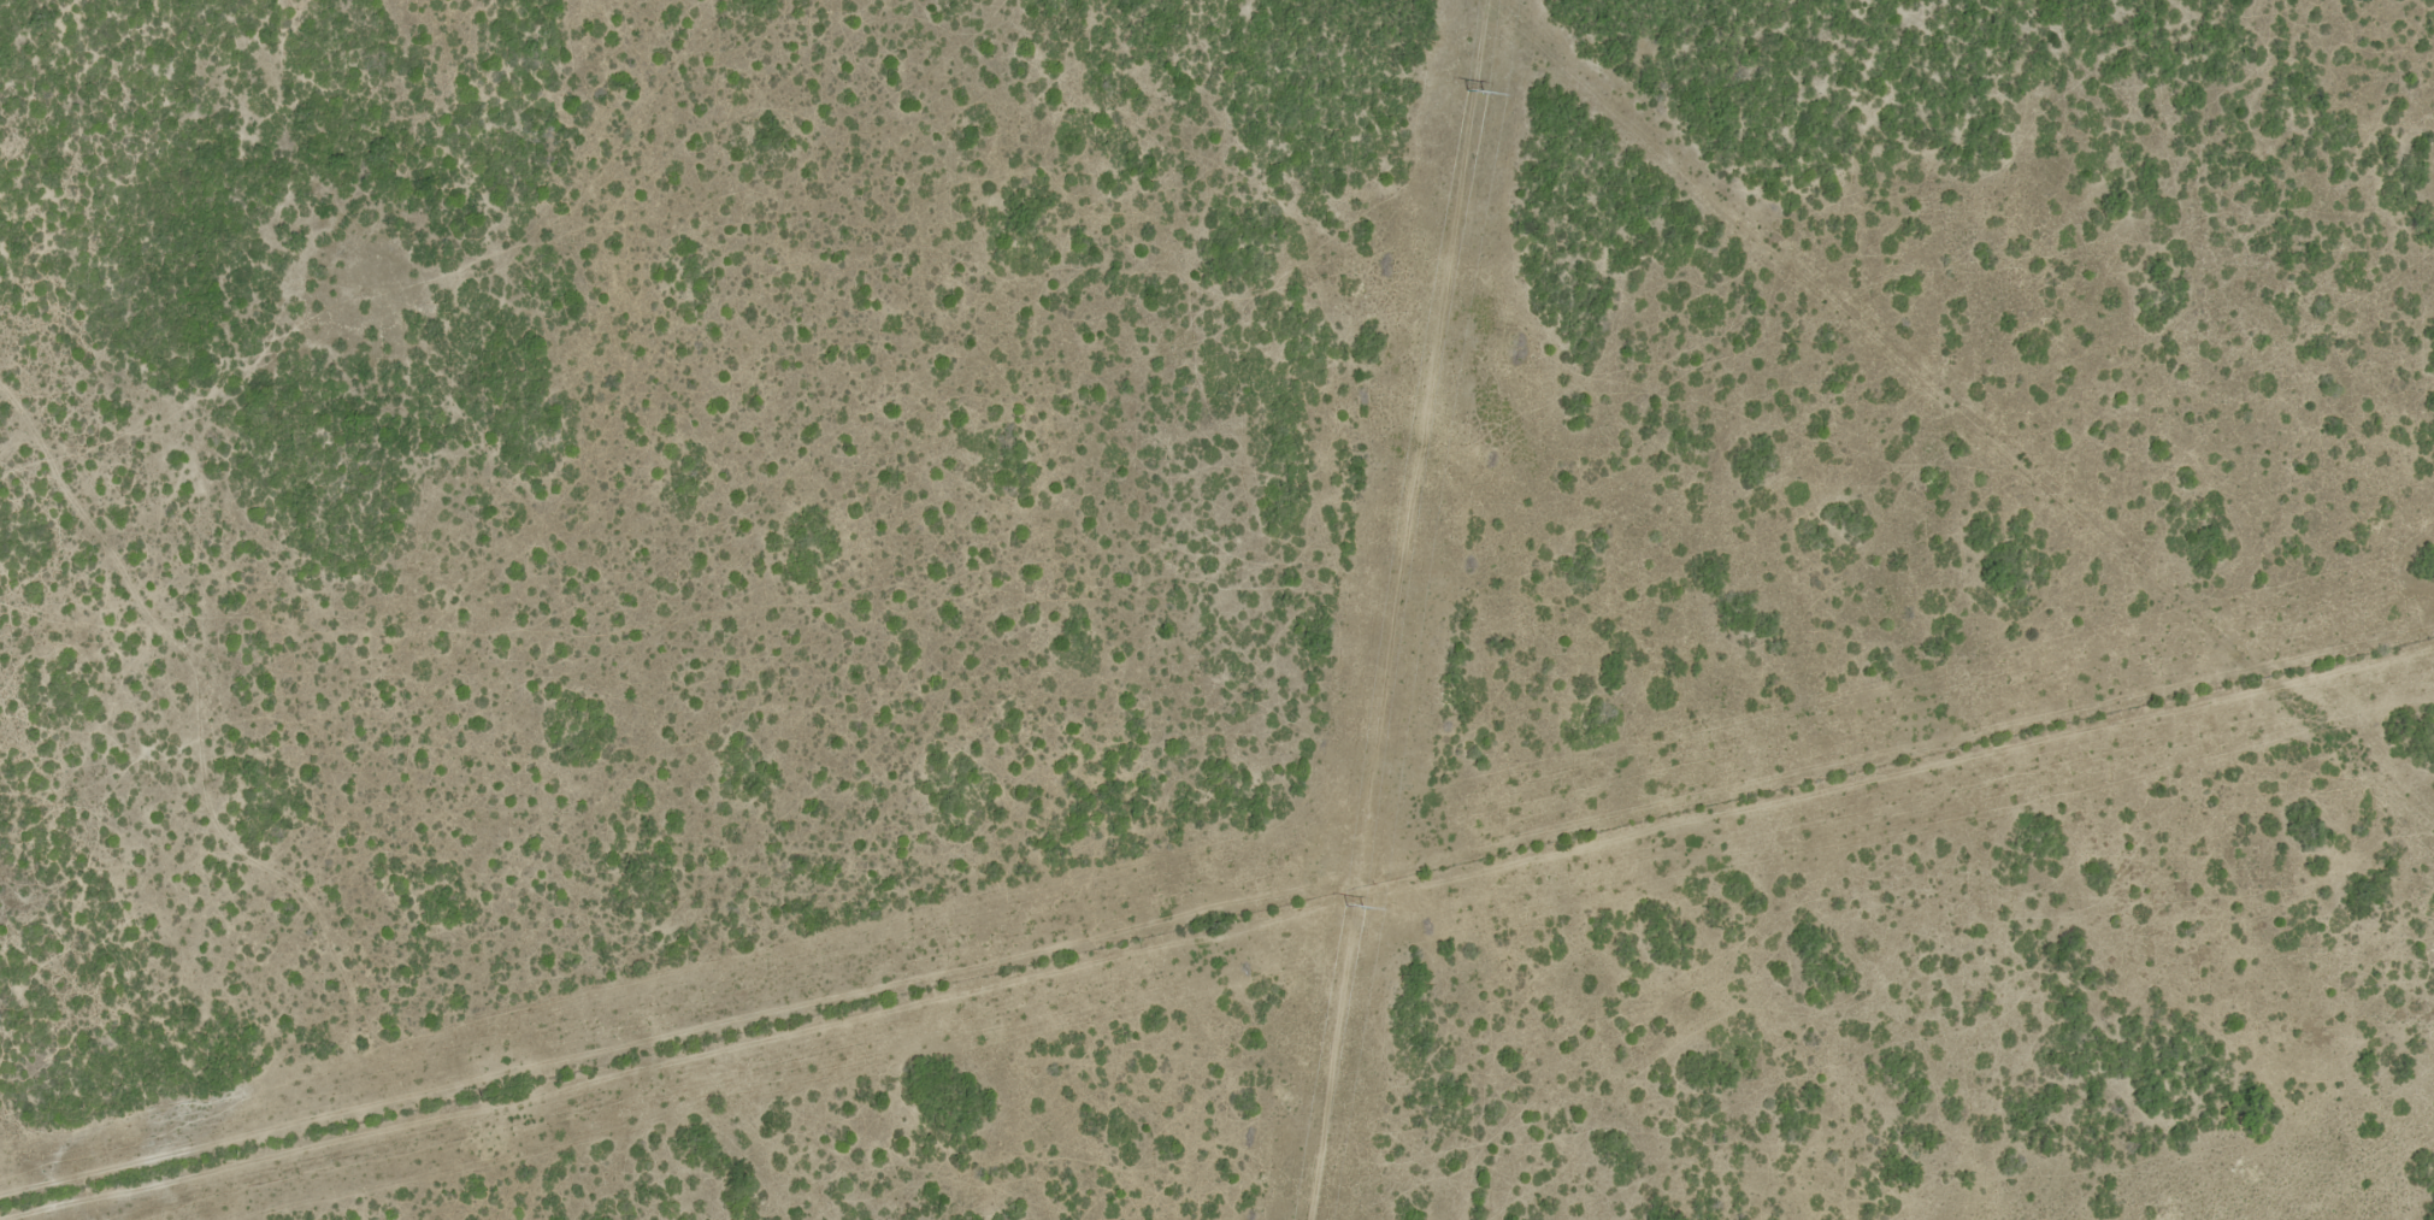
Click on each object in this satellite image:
power tower: (1474, 92)
power tower: (1350, 907)

